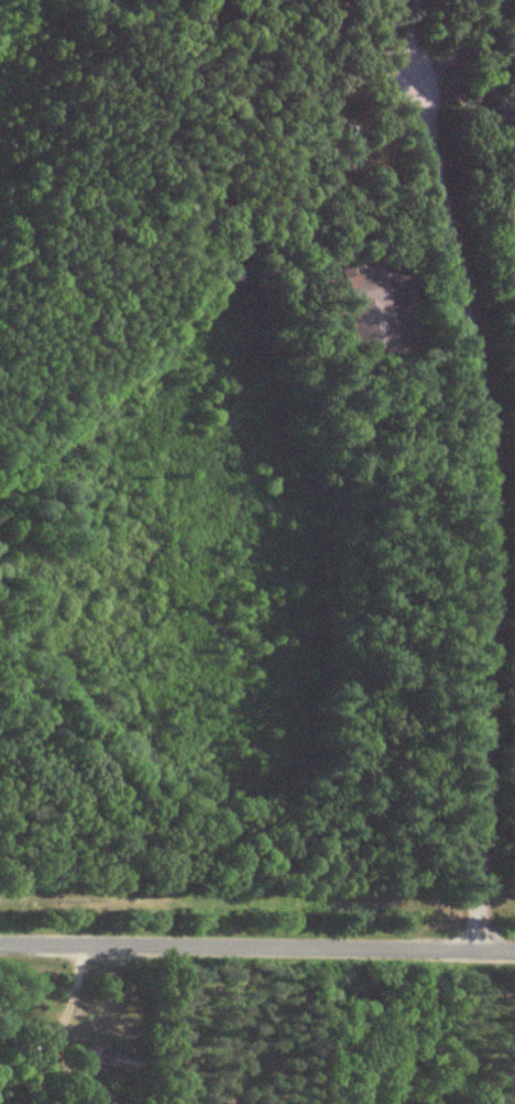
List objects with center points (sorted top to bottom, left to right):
building: (361, 306)
road: (482, 468)
road: (257, 943)
building: (105, 1061)

